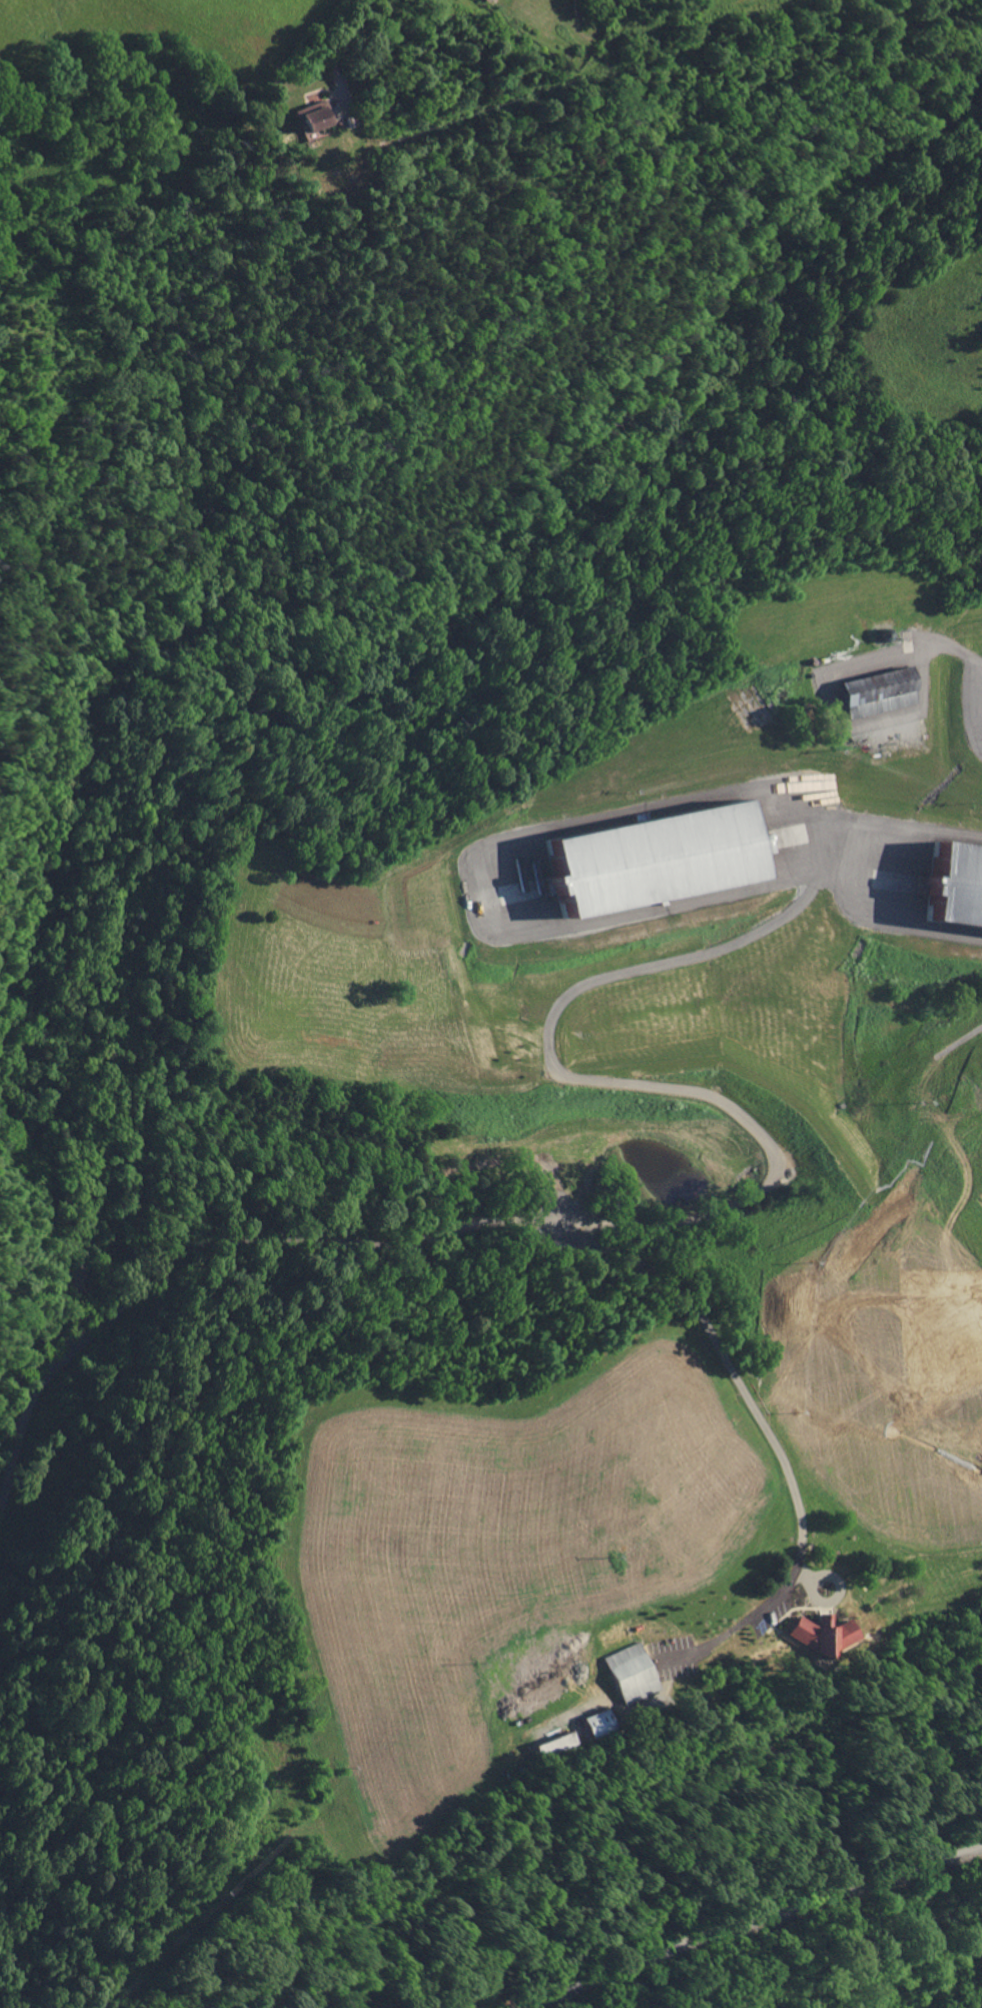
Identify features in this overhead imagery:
road: (341, 32)
building: (310, 117)
road: (951, 651)
building: (877, 691)
road: (839, 720)
road: (886, 836)
building: (780, 837)
building: (653, 857)
road: (486, 861)
building: (955, 886)
road: (627, 1224)
building: (961, 1264)
road: (768, 1433)
building: (578, 1475)
building: (820, 1633)
building: (631, 1671)
building: (596, 1721)
building: (554, 1742)
road: (752, 1921)

